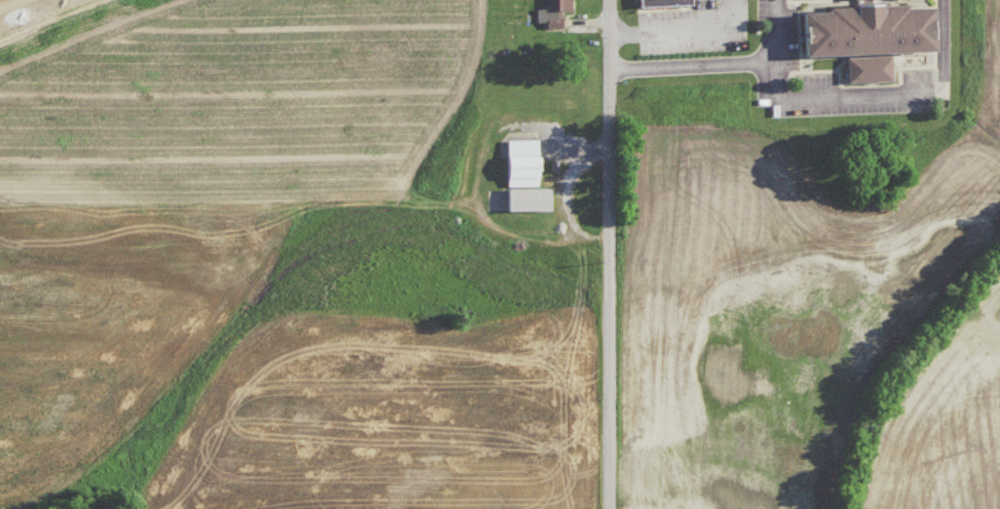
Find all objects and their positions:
building: (658, 2)
road: (12, 5)
building: (549, 11)
road: (680, 30)
building: (879, 32)
road: (953, 38)
road: (725, 65)
road: (859, 99)
building: (519, 159)
building: (551, 163)
building: (526, 196)
road: (608, 254)

